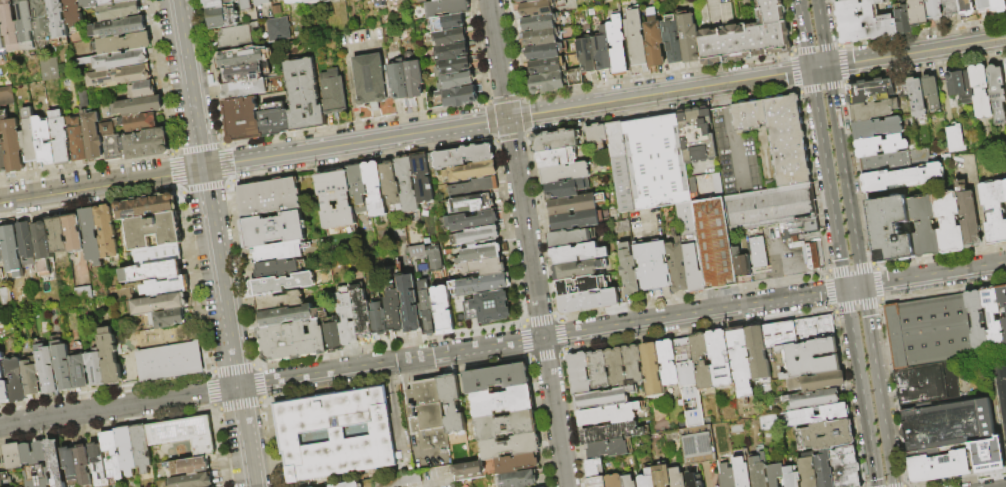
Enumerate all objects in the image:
building: (338, 0)
building: (438, 0)
building: (114, 1)
building: (231, 1)
building: (296, 1)
building: (314, 1)
building: (328, 1)
building: (528, 1)
building: (849, 1)
building: (90, 3)
building: (263, 3)
building: (382, 3)
building: (983, 4)
building: (247, 5)
building: (998, 5)
building: (966, 7)
building: (447, 8)
building: (535, 8)
building: (951, 8)
building: (120, 10)
building: (934, 10)
building: (918, 12)
building: (74, 13)
building: (222, 14)
building: (42, 18)
building: (59, 19)
building: (902, 20)
building: (449, 22)
building: (538, 22)
building: (863, 22)
building: (19, 25)
building: (118, 26)
building: (276, 29)
road: (822, 33)
building: (744, 34)
road: (804, 34)
building: (2, 35)
building: (236, 36)
building: (453, 36)
building: (541, 38)
building: (651, 39)
building: (679, 39)
building: (637, 40)
building: (124, 42)
building: (617, 46)
road: (814, 47)
building: (455, 50)
building: (543, 52)
building: (604, 53)
road: (917, 53)
building: (588, 57)
building: (241, 58)
building: (117, 59)
road: (842, 64)
building: (457, 65)
building: (545, 66)
building: (1005, 66)
traffic signals: (828, 67)
building: (48, 68)
road: (819, 68)
traffic signals: (810, 70)
road: (923, 70)
road: (792, 71)
road: (207, 72)
building: (243, 73)
road: (162, 75)
building: (120, 76)
road: (764, 77)
building: (460, 79)
building: (555, 80)
building: (373, 81)
building: (408, 82)
road: (845, 82)
road: (187, 83)
building: (956, 83)
road: (821, 88)
building: (142, 89)
building: (244, 89)
building: (877, 90)
building: (932, 91)
building: (981, 91)
road: (799, 92)
building: (997, 93)
building: (6, 95)
building: (304, 95)
building: (462, 96)
building: (335, 97)
building: (917, 97)
road: (722, 98)
building: (432, 100)
building: (138, 105)
building: (874, 109)
building: (242, 119)
building: (274, 119)
traffic signals: (507, 119)
building: (139, 122)
road: (459, 126)
building: (878, 127)
building: (92, 129)
building: (594, 133)
building: (776, 134)
building: (694, 135)
building: (30, 136)
building: (61, 138)
building: (953, 138)
building: (78, 139)
building: (45, 141)
building: (555, 141)
building: (13, 144)
building: (139, 144)
building: (882, 145)
road: (197, 148)
road: (733, 150)
building: (3, 156)
building: (464, 156)
building: (556, 158)
building: (655, 160)
building: (895, 162)
road: (223, 163)
building: (619, 165)
road: (972, 167)
traffic signals: (201, 168)
road: (177, 170)
building: (471, 171)
building: (565, 173)
road: (845, 176)
road: (859, 176)
building: (903, 178)
building: (423, 179)
road: (827, 179)
building: (358, 182)
road: (812, 182)
building: (407, 183)
road: (100, 184)
building: (1005, 185)
road: (204, 186)
building: (392, 186)
building: (477, 186)
building: (565, 188)
building: (376, 189)
building: (269, 196)
building: (336, 200)
building: (475, 202)
building: (147, 207)
building: (769, 207)
building: (994, 210)
building: (576, 211)
building: (969, 219)
building: (476, 221)
building: (949, 222)
road: (981, 222)
building: (925, 225)
building: (274, 229)
building: (891, 229)
building: (154, 231)
building: (75, 234)
building: (99, 234)
building: (59, 235)
building: (476, 237)
building: (570, 237)
road: (527, 243)
building: (712, 243)
building: (27, 244)
building: (802, 244)
building: (2, 247)
building: (43, 248)
building: (13, 251)
building: (278, 251)
building: (756, 252)
parking lot: (780, 252)
building: (481, 253)
building: (579, 253)
building: (158, 255)
road: (940, 256)
building: (433, 258)
building: (739, 263)
road: (872, 263)
building: (651, 266)
road: (849, 266)
building: (483, 267)
building: (676, 267)
building: (692, 267)
road: (784, 267)
building: (277, 269)
building: (578, 269)
building: (627, 269)
road: (827, 270)
building: (152, 271)
road: (933, 274)
building: (0, 276)
building: (283, 284)
building: (481, 284)
road: (878, 284)
building: (582, 285)
building: (165, 287)
traffic signals: (862, 287)
road: (853, 288)
traffic signals: (845, 290)
road: (826, 291)
road: (943, 291)
road: (817, 293)
road: (691, 296)
building: (1002, 296)
building: (280, 301)
building: (589, 301)
road: (880, 302)
building: (160, 304)
building: (410, 304)
building: (491, 307)
building: (444, 308)
road: (856, 308)
building: (428, 310)
building: (395, 312)
road: (833, 312)
building: (361, 313)
building: (287, 316)
building: (346, 316)
road: (556, 317)
building: (993, 317)
building: (167, 318)
building: (378, 319)
road: (538, 319)
building: (978, 319)
road: (521, 323)
road: (226, 327)
building: (1004, 327)
road: (696, 330)
building: (796, 330)
building: (929, 331)
road: (561, 334)
building: (334, 335)
building: (293, 341)
road: (523, 341)
road: (513, 342)
road: (562, 353)
building: (754, 353)
road: (855, 353)
building: (808, 356)
building: (111, 357)
road: (525, 357)
road: (544, 357)
building: (717, 358)
building: (167, 360)
road: (529, 360)
building: (700, 360)
building: (665, 361)
building: (630, 362)
building: (737, 362)
road: (256, 364)
building: (63, 365)
building: (613, 366)
road: (231, 367)
building: (596, 368)
building: (48, 369)
building: (97, 369)
road: (459, 369)
building: (650, 369)
building: (79, 371)
road: (208, 372)
building: (576, 372)
building: (31, 378)
building: (494, 378)
building: (17, 380)
building: (686, 381)
building: (812, 381)
building: (4, 383)
road: (259, 383)
building: (922, 384)
road: (878, 386)
building: (1001, 390)
road: (209, 391)
road: (892, 395)
road: (846, 396)
building: (600, 397)
building: (809, 397)
road: (262, 400)
building: (499, 400)
building: (449, 403)
road: (237, 405)
road: (118, 406)
road: (404, 407)
road: (214, 408)
road: (395, 409)
building: (816, 412)
building: (425, 413)
building: (606, 413)
road: (572, 421)
road: (106, 424)
building: (503, 424)
building: (948, 424)
building: (609, 431)
building: (182, 433)
building: (333, 433)
building: (824, 434)
building: (693, 443)
road: (268, 444)
building: (508, 446)
building: (604, 447)
building: (139, 448)
road: (222, 448)
building: (124, 450)
building: (109, 452)
road: (426, 452)
road: (871, 452)
building: (11, 455)
building: (67, 460)
building: (53, 461)
building: (95, 462)
building: (33, 464)
building: (81, 464)
building: (188, 464)
building: (493, 466)
building: (591, 466)
building: (843, 466)
building: (940, 466)
building: (756, 470)
building: (805, 470)
building: (821, 470)
building: (740, 471)
building: (659, 475)
building: (773, 475)
building: (724, 476)
building: (789, 476)
building: (674, 477)
building: (518, 478)
building: (644, 478)
building: (3, 479)
road: (960, 479)
building: (191, 480)
building: (611, 480)
building: (691, 480)
building: (593, 481)
building: (626, 481)
building: (346, 484)
road: (898, 486)
road: (904, 486)

